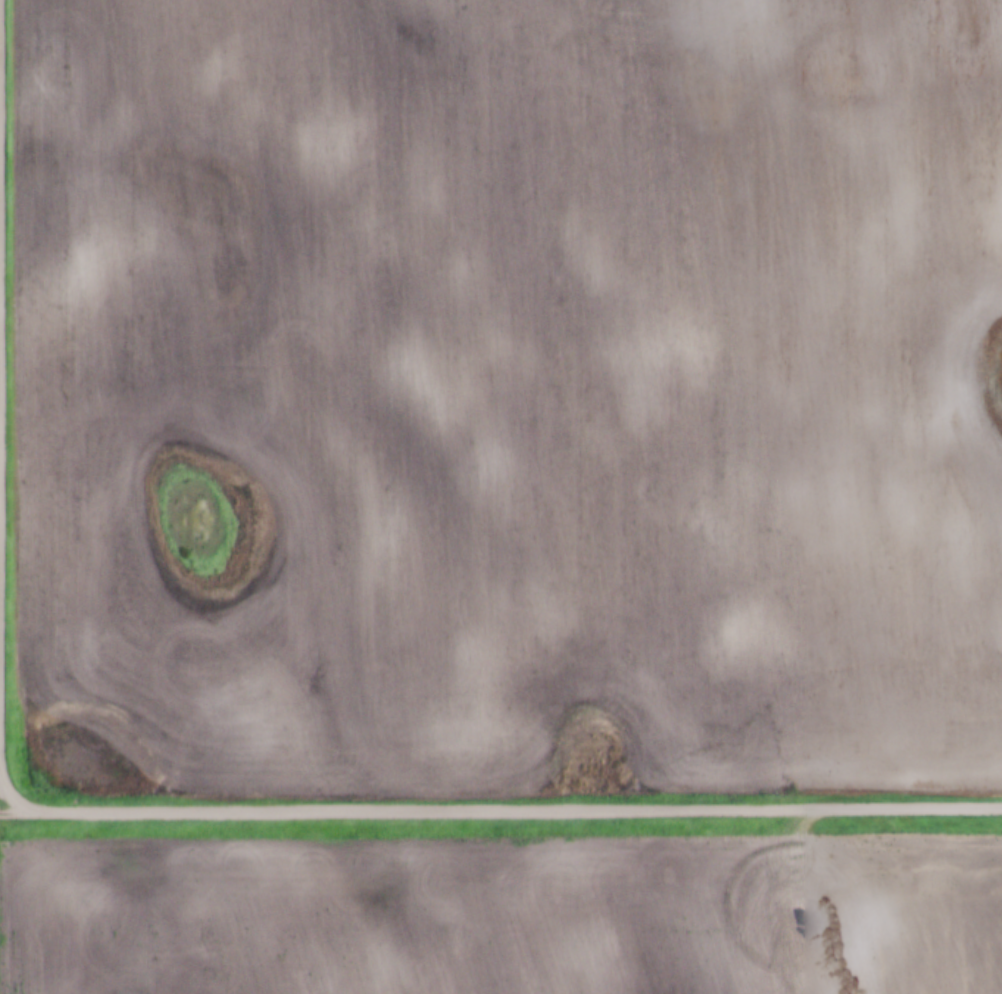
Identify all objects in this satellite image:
road: (0, 778)
road: (501, 805)
road: (0, 810)

